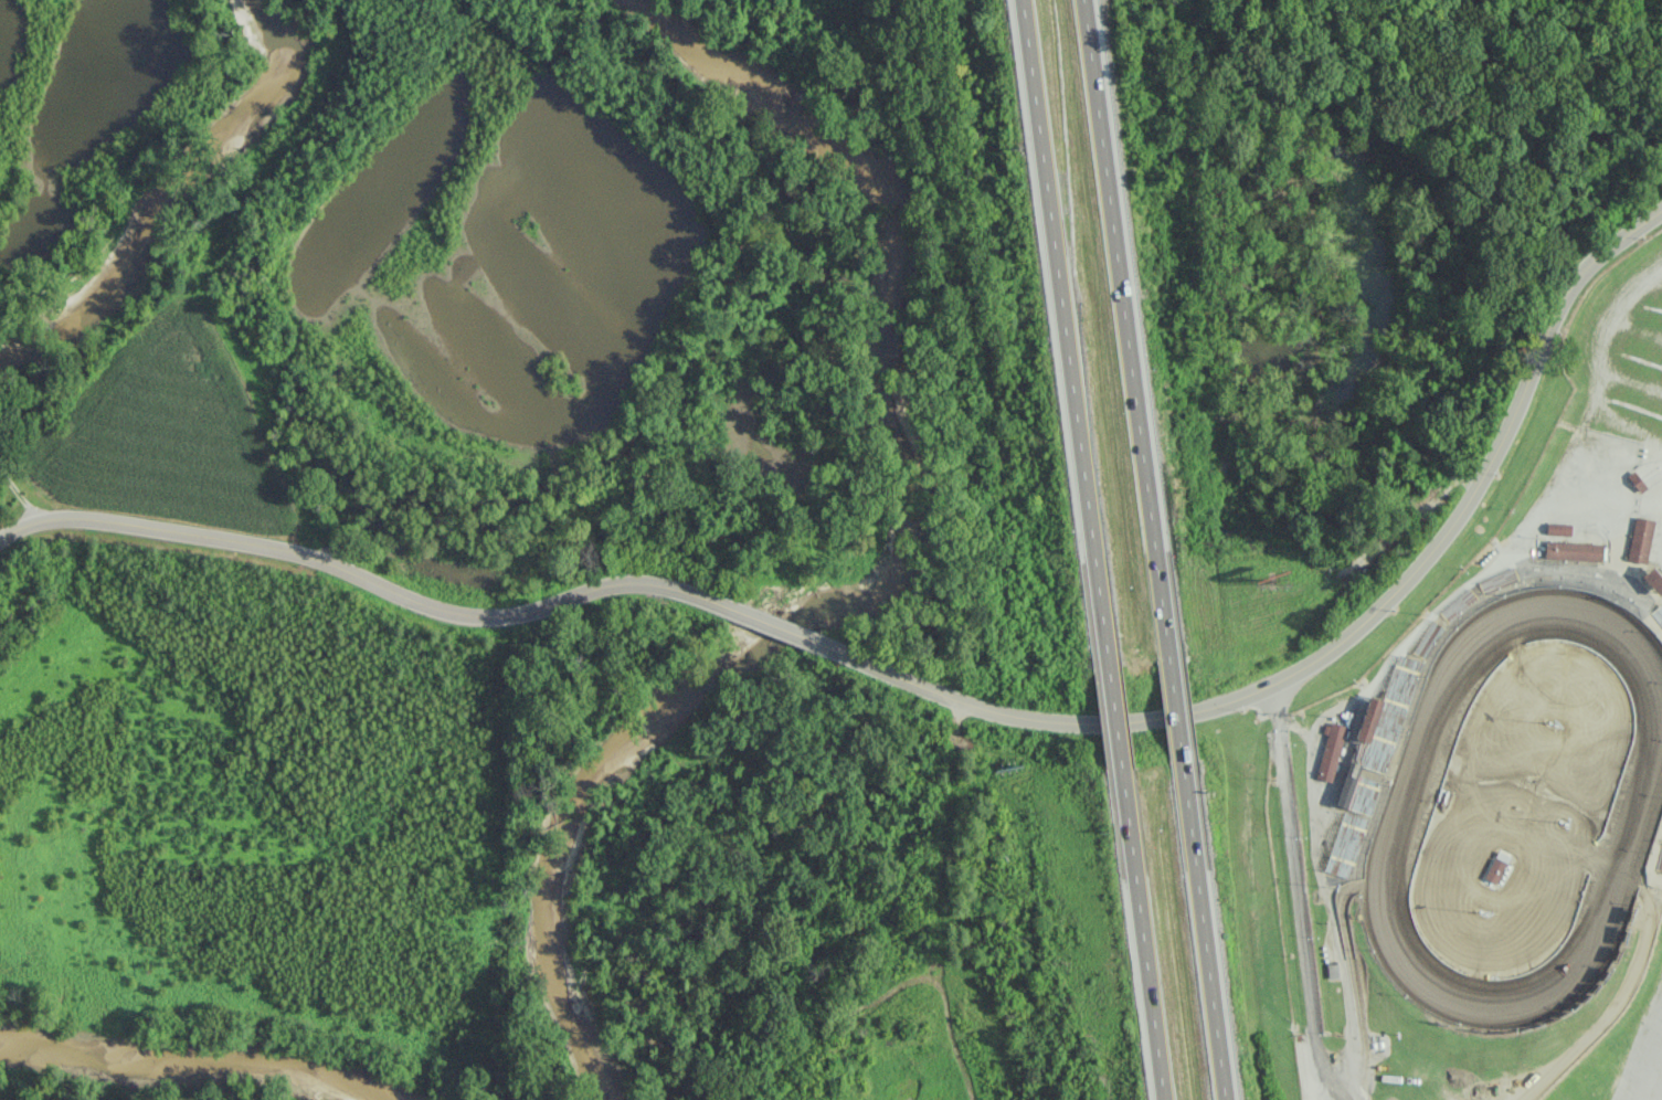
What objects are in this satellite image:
river: (167, 188)
road: (1123, 328)
road: (1062, 331)
road: (18, 496)
building: (1555, 528)
building: (1638, 539)
building: (1570, 550)
road: (370, 578)
river: (888, 583)
road: (774, 628)
road: (1334, 644)
road: (1173, 708)
road: (1113, 717)
building: (1376, 731)
building: (1328, 751)
road: (1296, 895)
road: (1200, 930)
road: (1141, 934)
river: (188, 1060)

